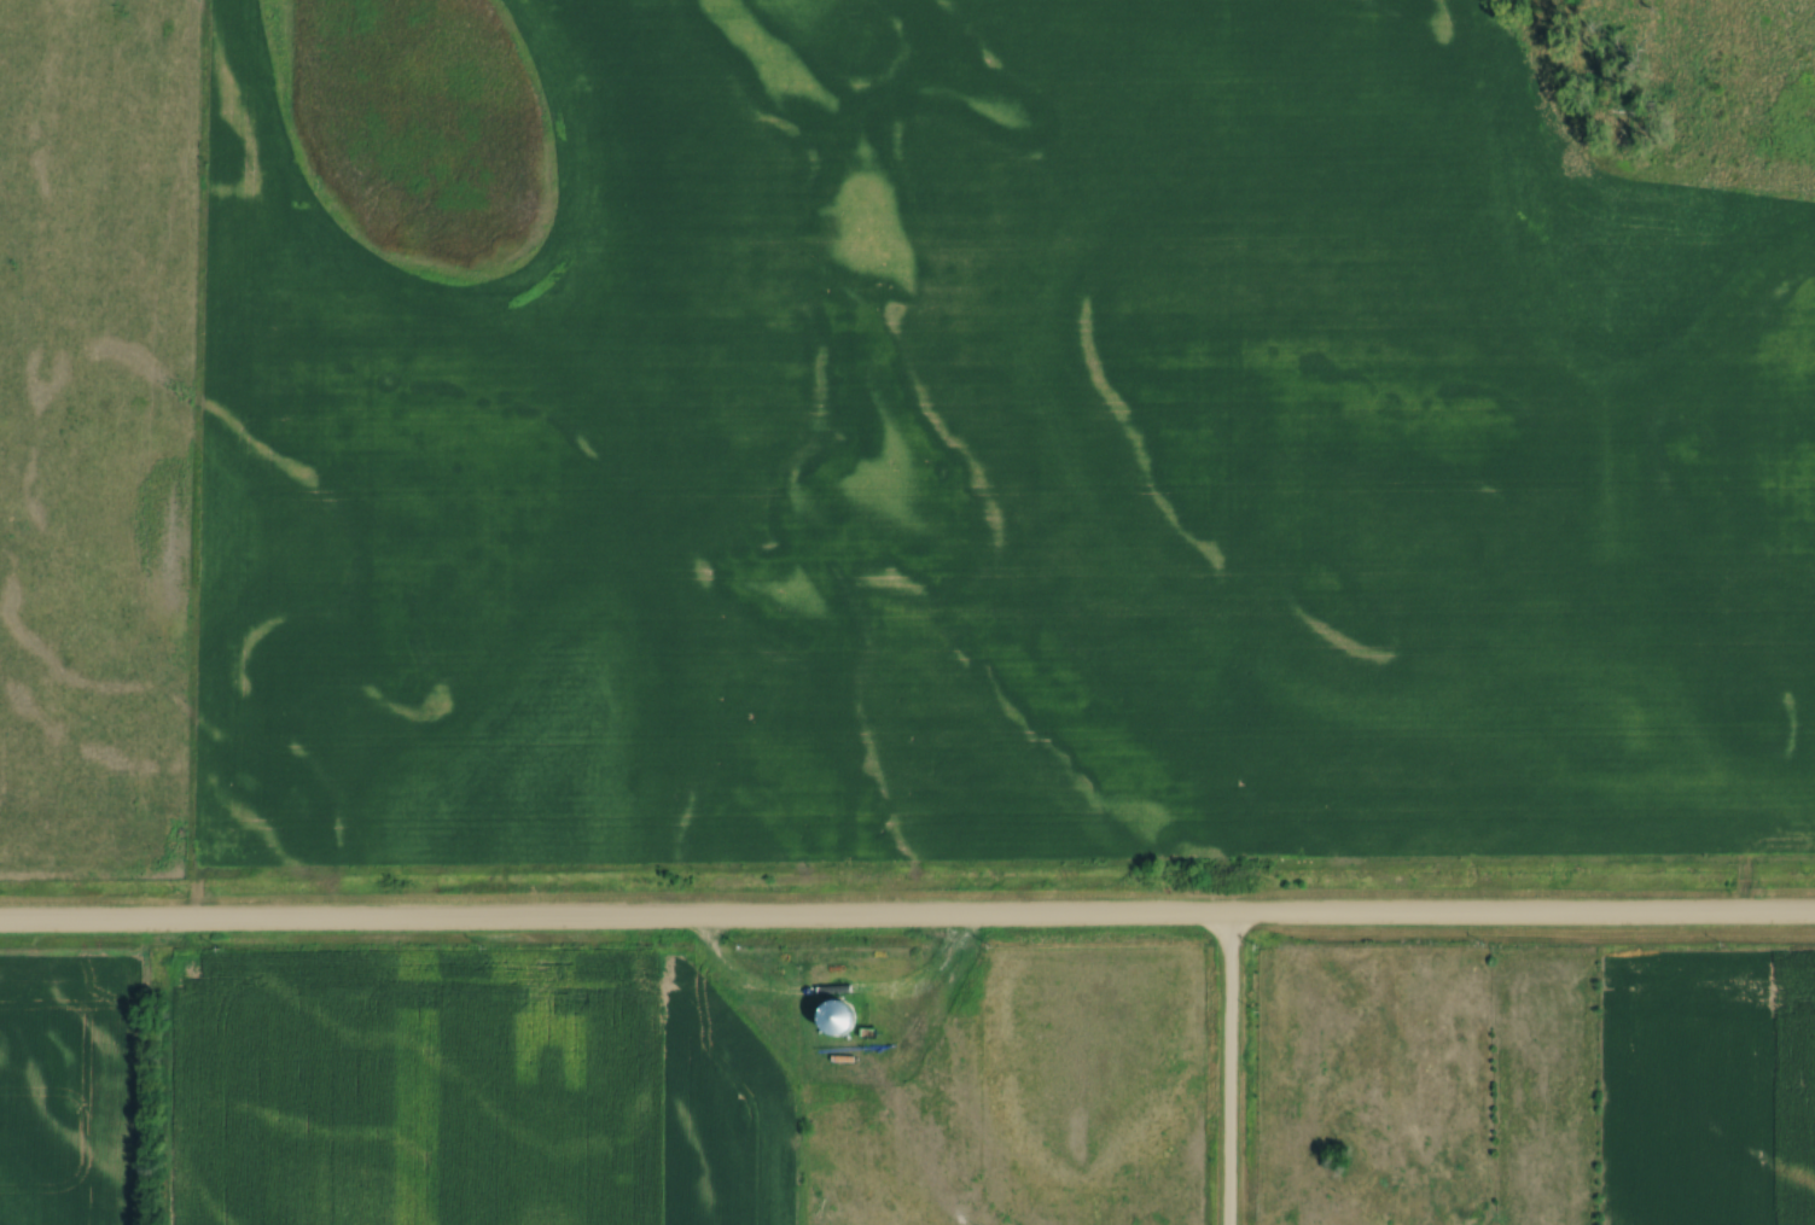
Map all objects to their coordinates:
road: (907, 921)
road: (1228, 1072)

